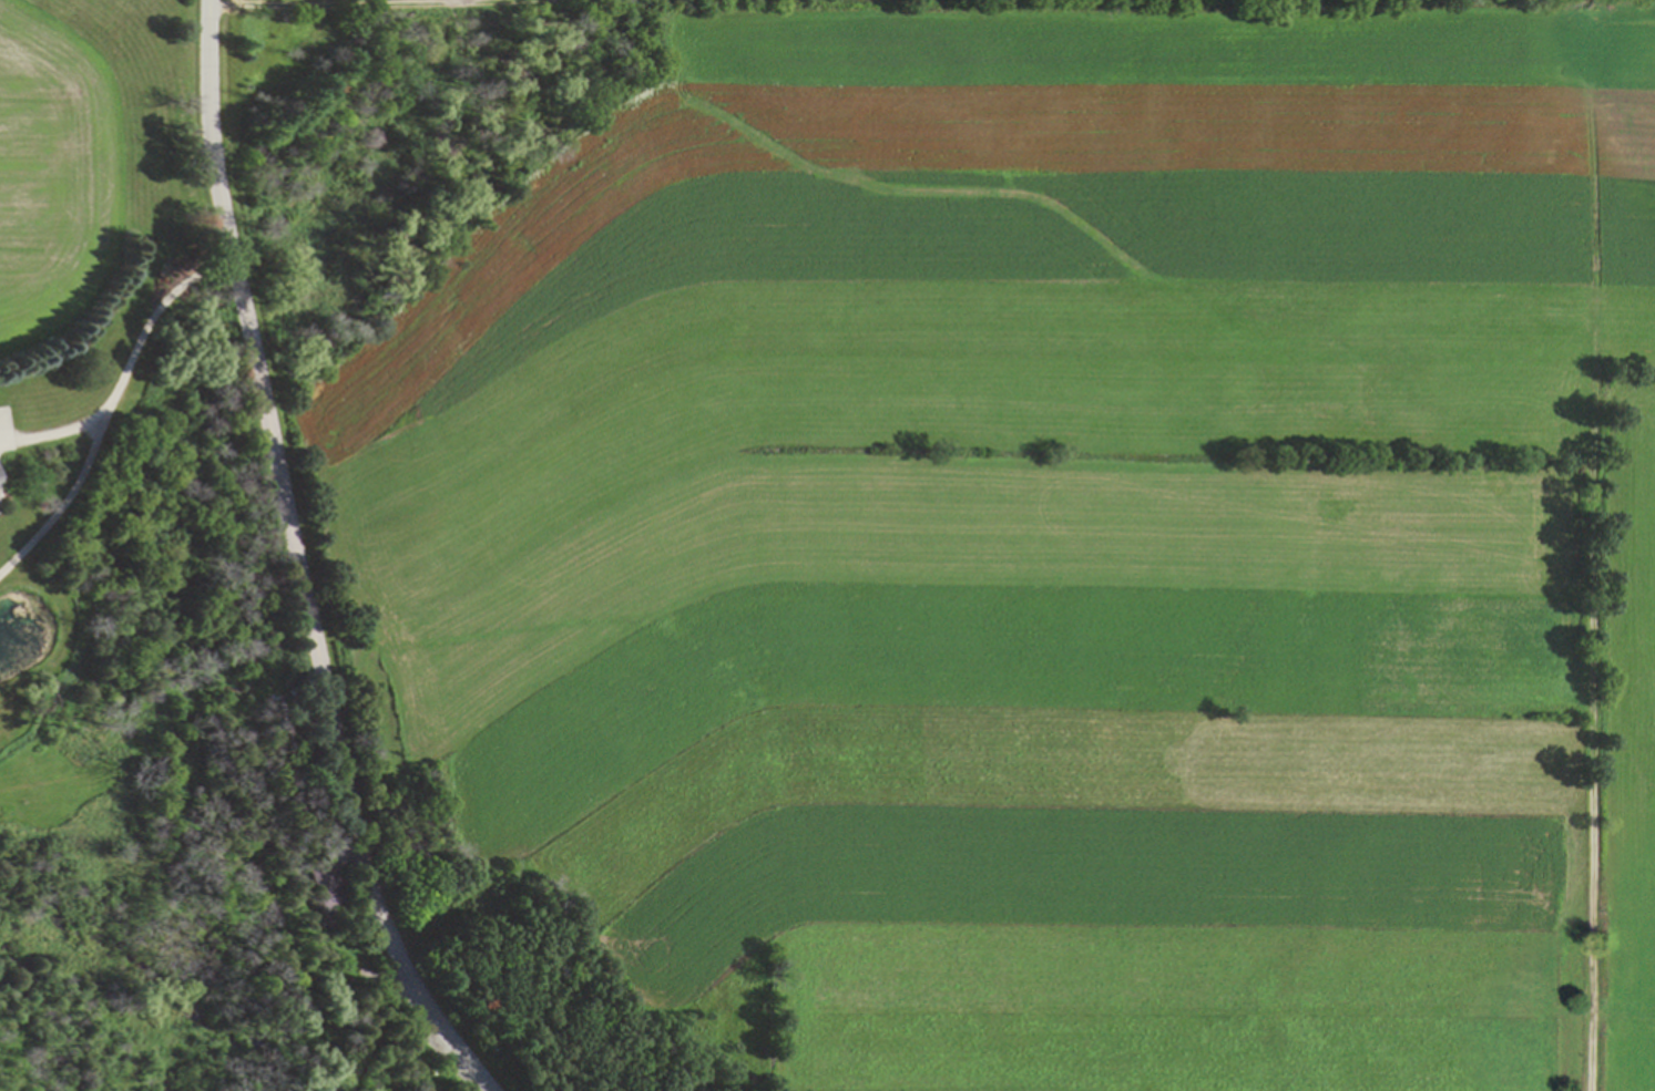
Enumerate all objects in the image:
road: (108, 409)
road: (53, 432)
road: (297, 563)

